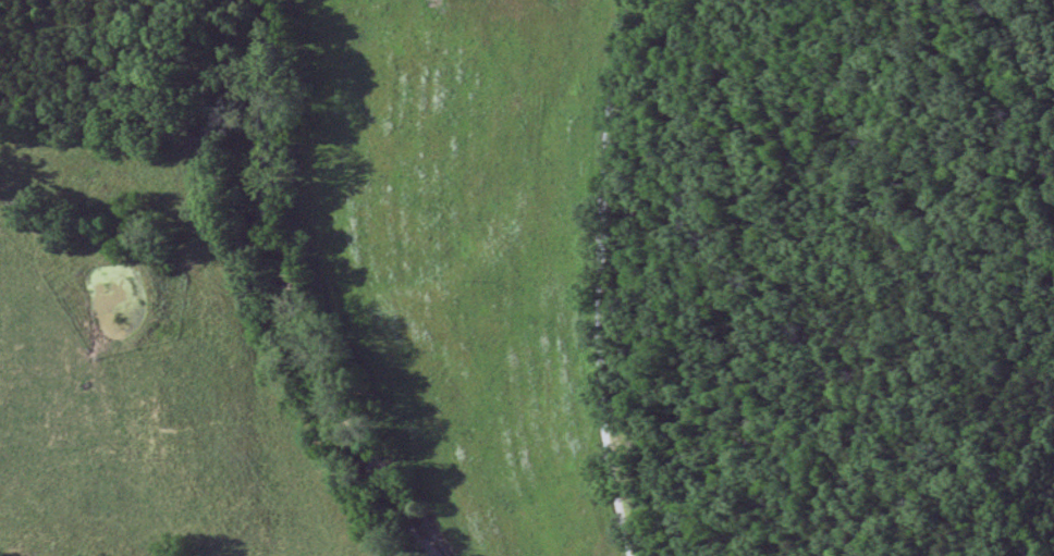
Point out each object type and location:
road: (604, 227)
road: (620, 512)

